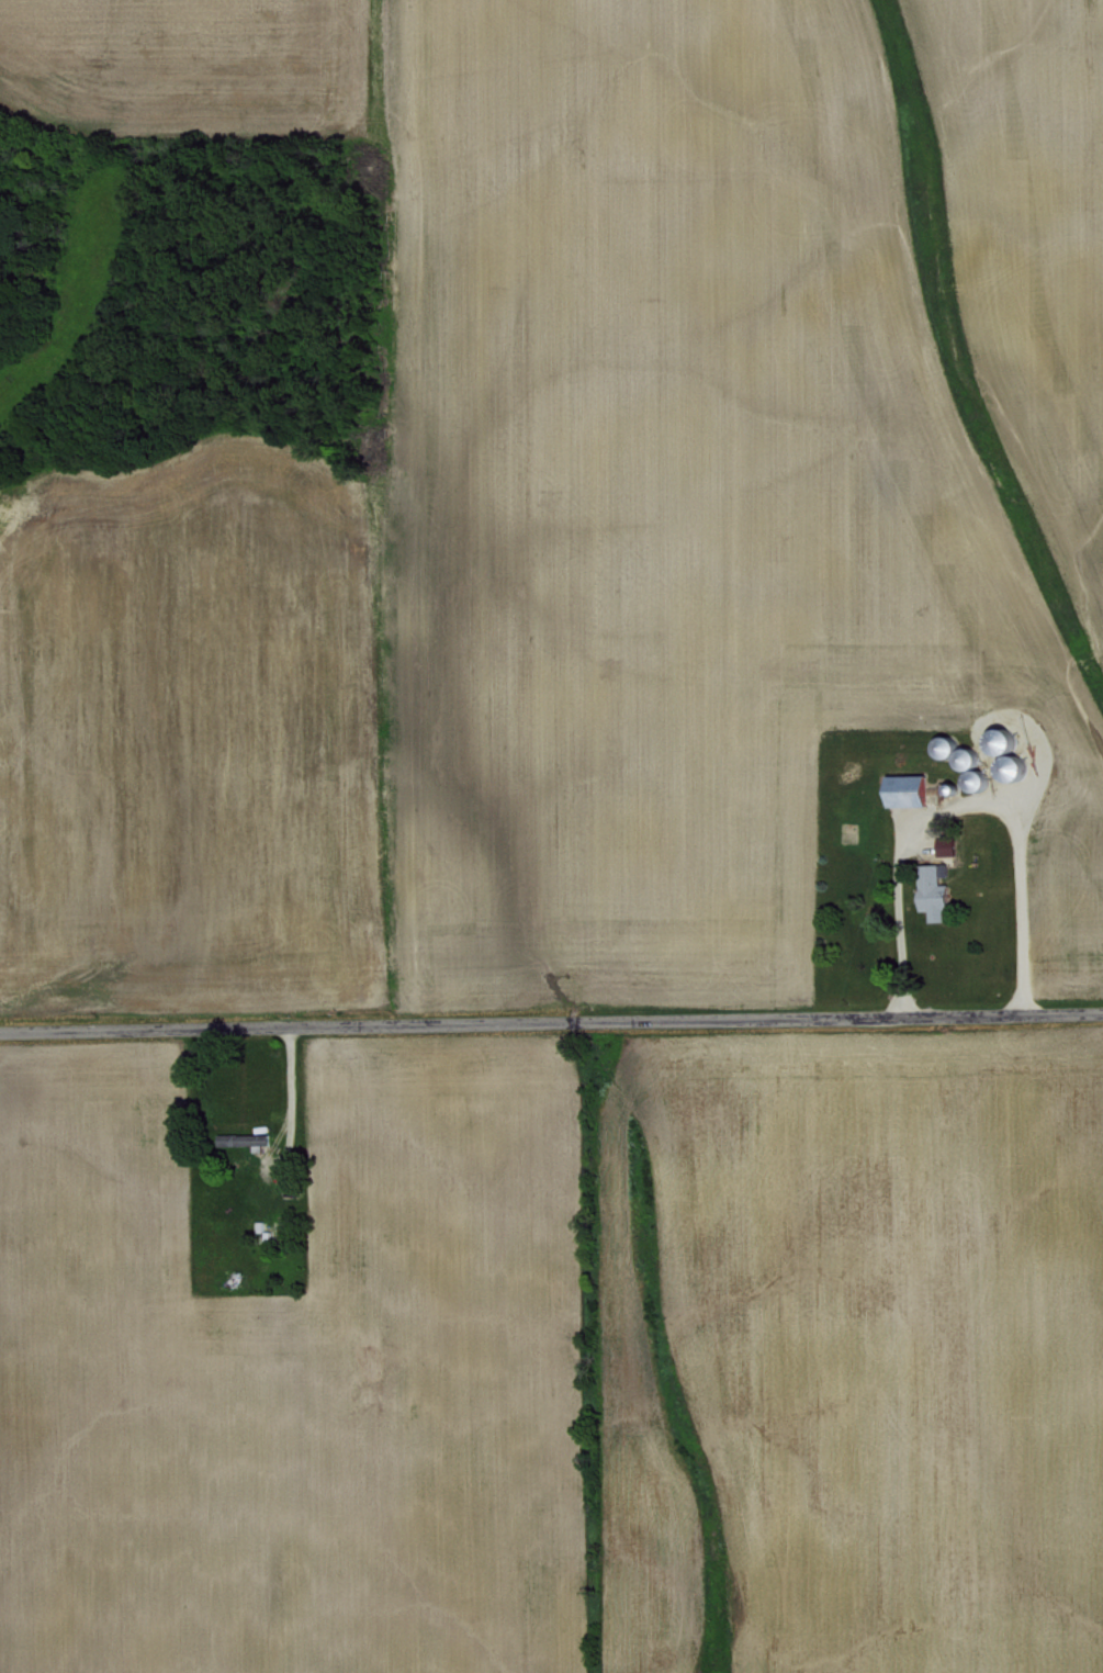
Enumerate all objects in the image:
building: (902, 789)
road: (963, 808)
building: (931, 890)
road: (551, 1024)
road: (289, 1134)
building: (240, 1138)

